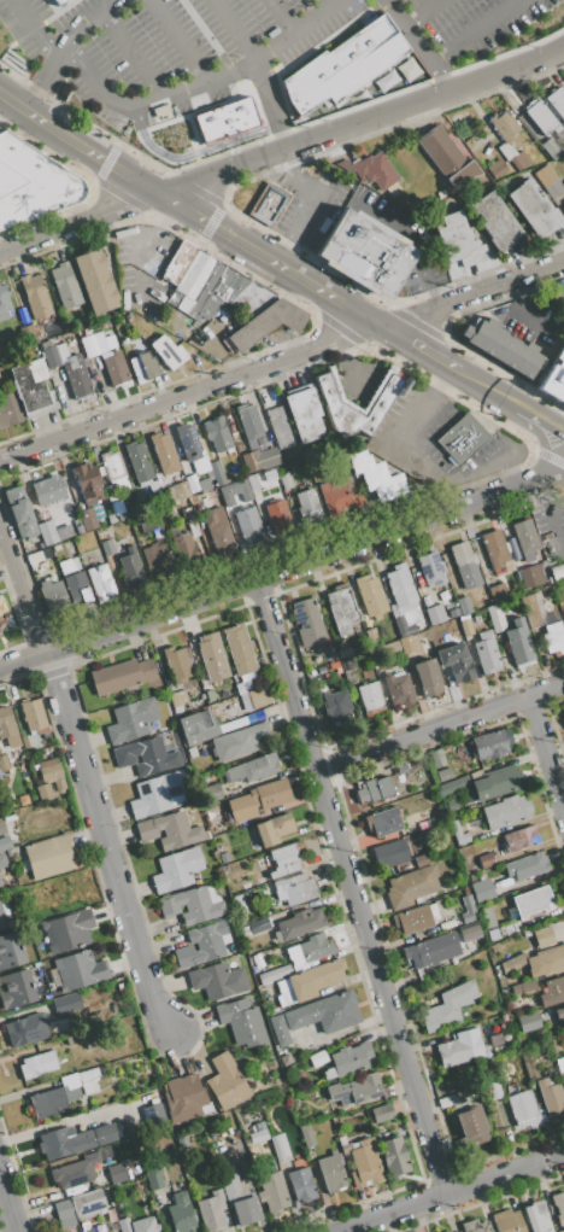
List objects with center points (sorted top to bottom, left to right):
building: (52, 0)
building: (57, 1)
road: (328, 4)
road: (421, 12)
road: (280, 17)
road: (87, 22)
road: (233, 30)
road: (469, 30)
road: (175, 39)
road: (417, 46)
road: (129, 52)
parking lot: (237, 53)
building: (341, 66)
building: (395, 74)
road: (42, 78)
road: (163, 90)
road: (4, 93)
building: (556, 101)
road: (270, 105)
building: (223, 116)
building: (540, 116)
road: (360, 123)
building: (504, 125)
road: (83, 146)
building: (551, 148)
building: (440, 151)
building: (505, 151)
building: (519, 159)
building: (495, 168)
building: (374, 170)
building: (463, 173)
building: (545, 175)
building: (33, 183)
building: (554, 187)
road: (315, 192)
building: (563, 203)
building: (268, 205)
building: (534, 208)
road: (186, 212)
building: (494, 221)
road: (78, 223)
road: (403, 232)
building: (456, 240)
road: (281, 252)
building: (364, 252)
building: (178, 263)
road: (277, 267)
building: (198, 275)
building: (95, 281)
building: (228, 284)
building: (64, 285)
building: (13, 294)
building: (35, 296)
road: (433, 297)
building: (174, 298)
building: (251, 299)
building: (4, 302)
building: (196, 302)
building: (183, 304)
building: (208, 306)
road: (527, 309)
road: (359, 316)
building: (265, 323)
building: (110, 341)
building: (93, 344)
building: (503, 346)
building: (61, 351)
building: (166, 351)
road: (417, 351)
building: (52, 356)
road: (282, 361)
road: (346, 362)
building: (0, 364)
building: (147, 364)
building: (0, 368)
building: (116, 368)
building: (135, 370)
building: (76, 375)
road: (357, 375)
building: (554, 379)
building: (30, 385)
road: (486, 392)
road: (427, 402)
building: (337, 404)
building: (8, 410)
building: (304, 415)
road: (540, 424)
building: (249, 425)
building: (278, 427)
building: (217, 434)
building: (266, 438)
building: (460, 438)
building: (190, 448)
building: (164, 452)
building: (259, 459)
building: (137, 461)
building: (112, 466)
building: (217, 473)
building: (376, 478)
building: (253, 480)
building: (284, 480)
building: (88, 483)
building: (192, 484)
building: (204, 485)
building: (153, 486)
building: (47, 490)
building: (353, 494)
building: (334, 495)
building: (225, 503)
building: (307, 506)
building: (117, 507)
road: (546, 507)
building: (96, 510)
building: (19, 512)
building: (122, 516)
building: (277, 516)
building: (87, 519)
building: (110, 519)
building: (248, 524)
building: (192, 527)
building: (234, 527)
building: (217, 529)
building: (47, 532)
building: (524, 536)
building: (183, 545)
building: (37, 547)
building: (107, 547)
building: (55, 548)
building: (494, 548)
building: (39, 556)
building: (155, 560)
building: (75, 564)
building: (465, 565)
building: (65, 567)
building: (130, 568)
building: (431, 570)
building: (557, 571)
road: (283, 573)
building: (531, 576)
building: (100, 583)
building: (400, 588)
building: (77, 589)
road: (23, 590)
building: (497, 592)
building: (51, 594)
building: (370, 595)
building: (463, 605)
building: (531, 605)
building: (341, 609)
building: (1, 612)
building: (453, 613)
building: (435, 614)
building: (495, 618)
building: (307, 621)
building: (0, 626)
building: (403, 626)
building: (465, 626)
building: (371, 636)
building: (550, 637)
building: (415, 641)
building: (406, 644)
building: (519, 646)
building: (388, 648)
building: (239, 649)
building: (483, 652)
building: (345, 653)
building: (212, 656)
building: (330, 656)
building: (456, 662)
building: (176, 665)
building: (121, 675)
building: (348, 676)
building: (428, 678)
building: (240, 688)
building: (398, 688)
building: (260, 696)
building: (370, 697)
building: (336, 706)
building: (563, 707)
building: (254, 716)
building: (34, 717)
building: (131, 720)
building: (233, 724)
building: (198, 726)
road: (439, 726)
building: (7, 728)
building: (237, 742)
building: (489, 745)
road: (548, 751)
building: (146, 755)
building: (436, 758)
building: (4, 763)
building: (253, 769)
building: (400, 769)
building: (51, 772)
building: (399, 778)
building: (494, 783)
building: (454, 786)
building: (374, 789)
building: (43, 792)
building: (211, 793)
building: (158, 794)
building: (258, 799)
building: (23, 800)
building: (451, 805)
building: (505, 811)
building: (382, 822)
building: (2, 828)
building: (272, 829)
building: (169, 830)
building: (458, 833)
building: (518, 840)
road: (104, 841)
building: (5, 842)
building: (389, 853)
building: (49, 856)
building: (423, 859)
building: (483, 859)
building: (1, 860)
building: (284, 860)
building: (527, 865)
building: (404, 868)
building: (176, 870)
building: (0, 883)
building: (411, 887)
building: (294, 888)
road: (351, 888)
building: (482, 891)
building: (440, 893)
building: (237, 899)
building: (466, 900)
building: (528, 903)
building: (193, 904)
building: (466, 910)
building: (4, 915)
building: (487, 917)
building: (416, 918)
building: (298, 923)
building: (446, 923)
building: (258, 924)
building: (506, 928)
building: (67, 930)
building: (431, 930)
building: (470, 933)
building: (492, 934)
building: (542, 938)
building: (202, 944)
building: (10, 950)
building: (310, 950)
building: (430, 950)
building: (537, 962)
building: (77, 970)
building: (275, 973)
building: (327, 973)
building: (217, 980)
building: (282, 986)
building: (300, 986)
building: (523, 986)
building: (14, 988)
building: (552, 991)
building: (284, 998)
building: (66, 1004)
building: (447, 1008)
building: (316, 1015)
building: (559, 1015)
building: (241, 1021)
building: (528, 1021)
building: (25, 1029)
building: (495, 1039)
building: (457, 1050)
building: (317, 1058)
building: (284, 1059)
building: (348, 1059)
building: (37, 1064)
building: (528, 1064)
building: (559, 1064)
building: (563, 1073)
building: (87, 1074)
building: (225, 1081)
building: (88, 1087)
building: (354, 1090)
building: (493, 1090)
building: (550, 1096)
building: (184, 1098)
building: (453, 1099)
building: (51, 1100)
building: (296, 1102)
building: (523, 1109)
building: (152, 1114)
building: (380, 1114)
building: (259, 1126)
building: (470, 1126)
building: (306, 1134)
building: (257, 1135)
building: (211, 1137)
building: (75, 1139)
building: (181, 1142)
building: (280, 1146)
building: (345, 1149)
building: (393, 1156)
building: (364, 1163)
building: (269, 1164)
building: (75, 1170)
building: (330, 1172)
building: (116, 1173)
building: (153, 1175)
building: (301, 1184)
building: (230, 1185)
road: (451, 1191)
building: (272, 1192)
road: (8, 1203)
building: (87, 1204)
building: (558, 1207)
building: (245, 1210)
building: (211, 1211)
building: (63, 1213)
building: (181, 1213)
building: (536, 1216)
building: (507, 1221)
building: (124, 1225)
building: (145, 1225)
building: (84, 1226)
building: (475, 1226)
building: (448, 1231)
building: (453, 1231)
building: (458, 1231)
building: (559, 1231)

